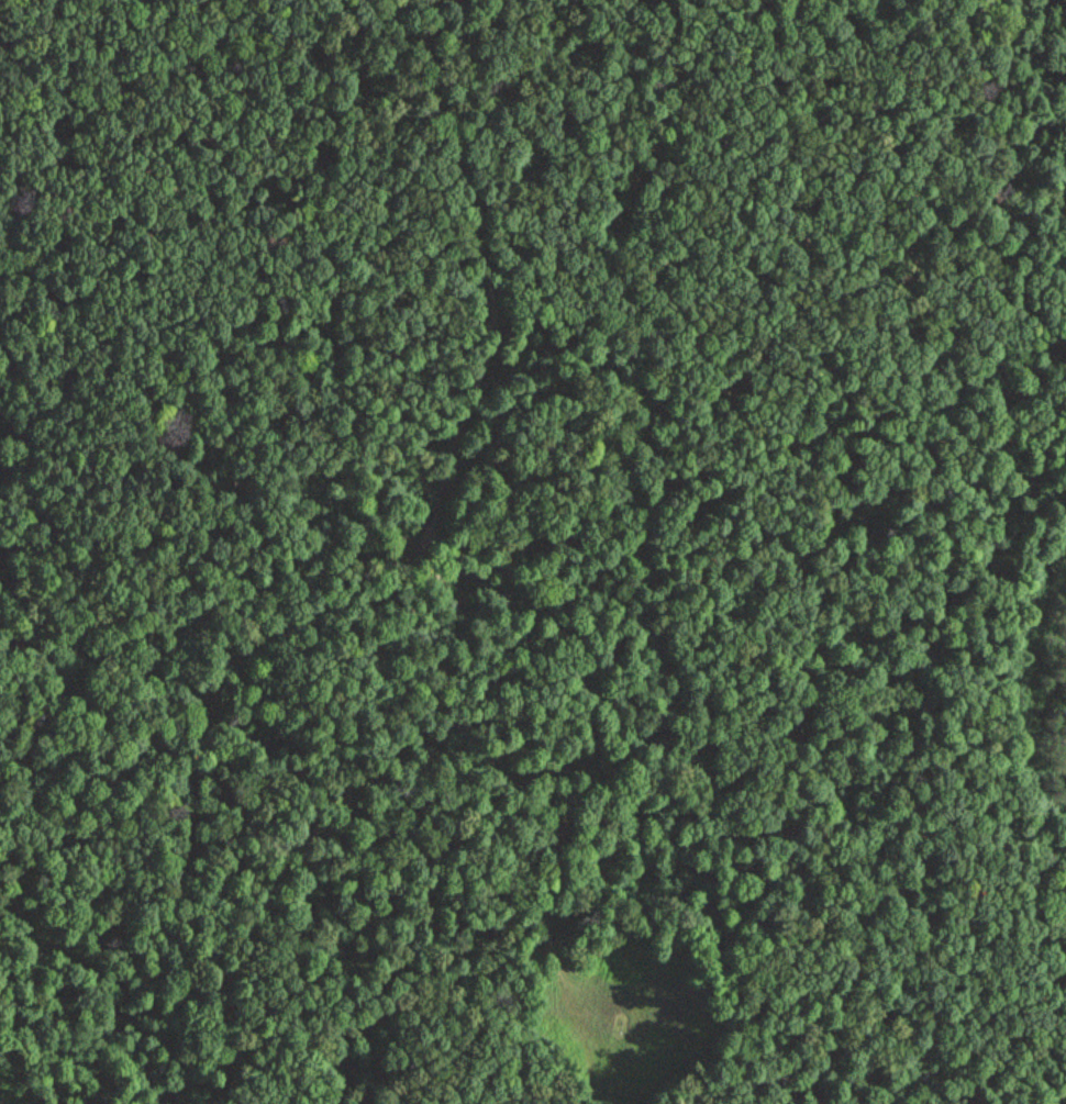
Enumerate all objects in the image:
road: (484, 261)
road: (234, 681)

